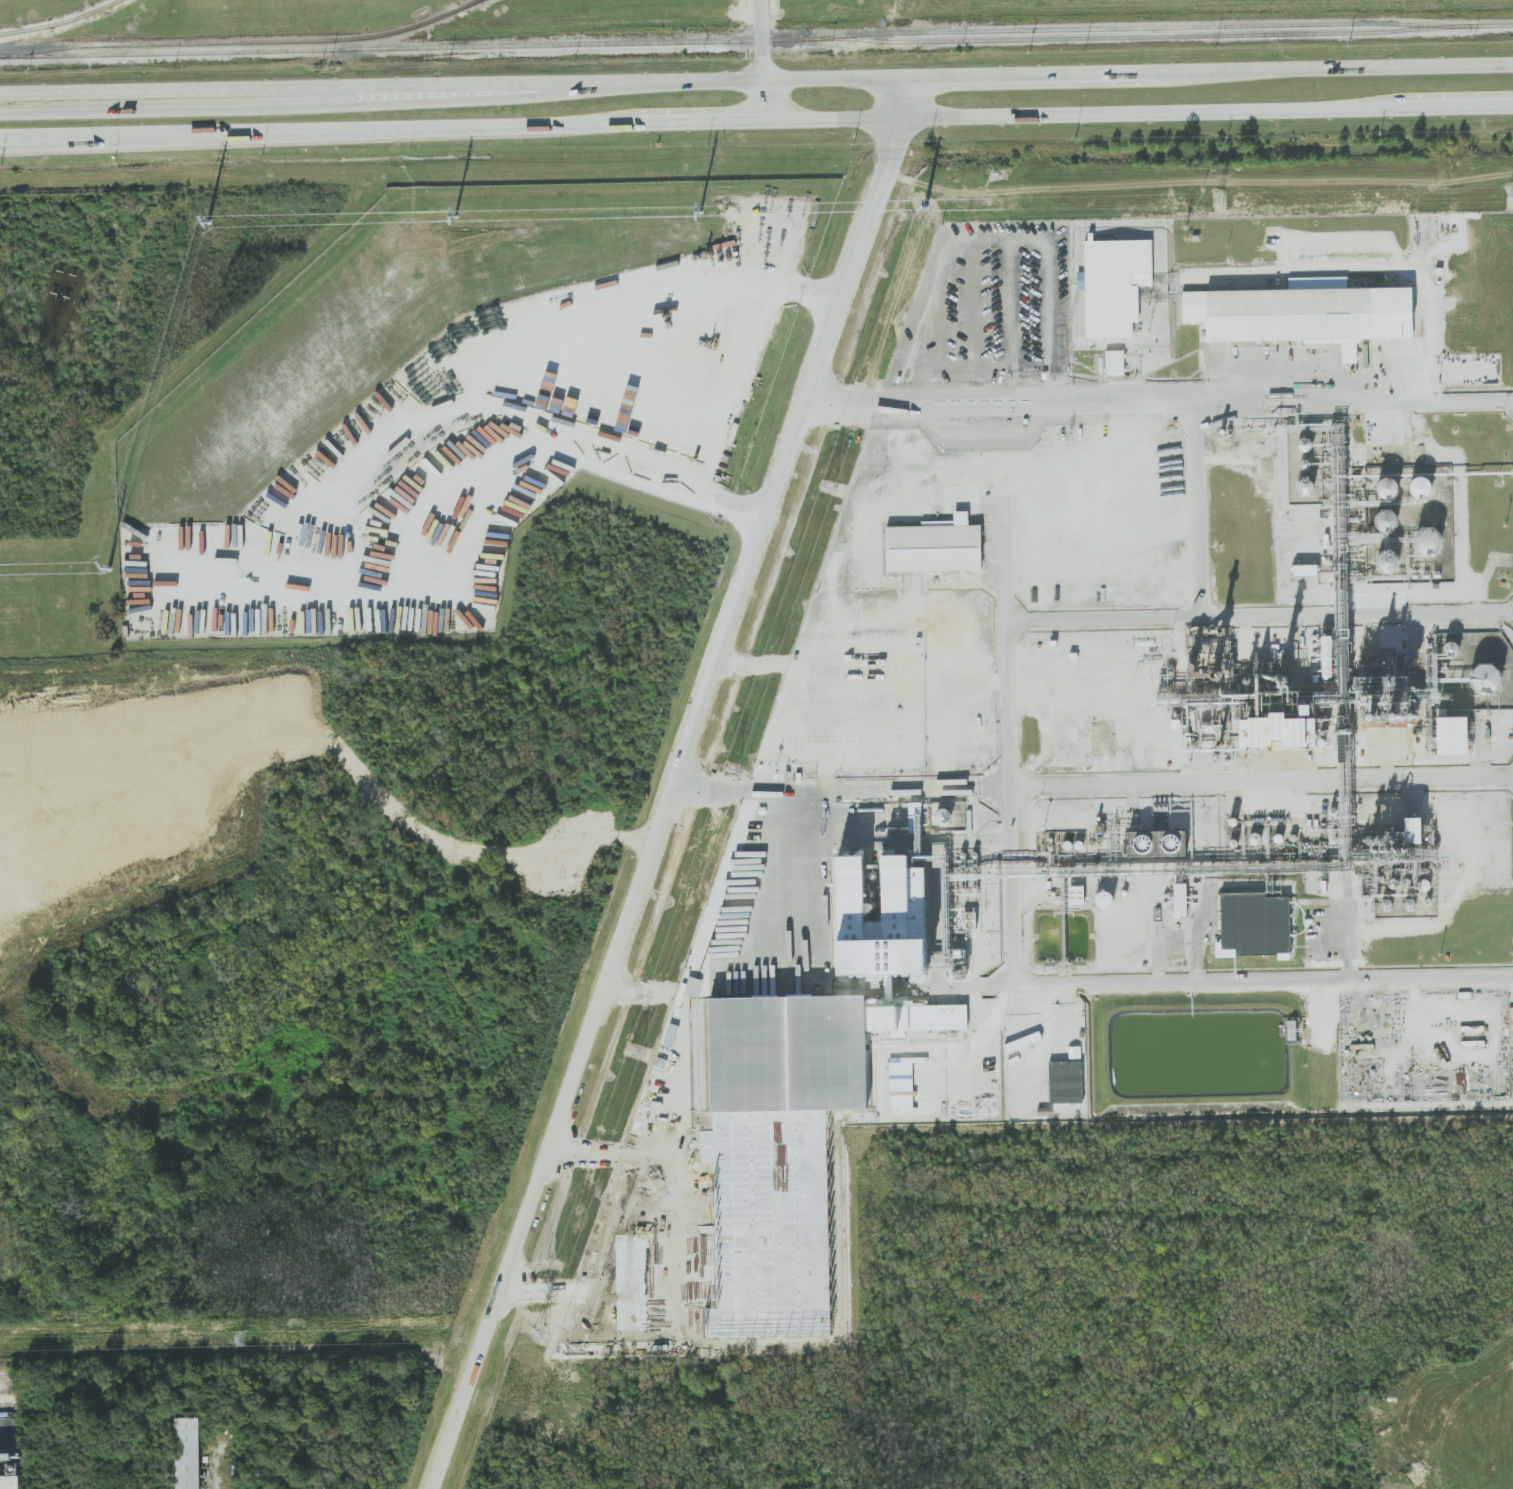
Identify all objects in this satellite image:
railway: (62, 22)
railway: (1136, 37)
road: (761, 40)
railway: (756, 41)
railway: (242, 42)
road: (756, 81)
road: (761, 101)
road: (303, 107)
road: (756, 121)
road: (6, 137)
power tower: (1512, 193)
power tower: (1219, 199)
power tower: (925, 204)
road: (1026, 236)
road: (992, 237)
road: (949, 261)
building: (1114, 285)
building: (1304, 313)
road: (975, 321)
road: (560, 333)
road: (1429, 337)
road: (938, 348)
building: (1115, 362)
road: (1457, 369)
road: (1162, 395)
road: (578, 447)
power tower: (830, 487)
road: (1200, 502)
building: (1429, 541)
building: (935, 546)
road: (1004, 557)
building: (1305, 570)
building: (1488, 677)
road: (1340, 683)
building: (1276, 732)
building: (1454, 735)
power tower: (734, 769)
road: (677, 784)
road: (1095, 784)
road: (1012, 793)
building: (1157, 843)
road: (451, 845)
road: (795, 872)
building: (1076, 895)
building: (1180, 899)
building: (1104, 900)
building: (970, 918)
building: (1254, 926)
building: (941, 949)
road: (974, 984)
building: (832, 1006)
power tower: (637, 1052)
building: (1066, 1082)
building: (656, 1153)
road: (654, 1244)
power tower: (540, 1334)
power tower: (242, 1337)
railway: (9, 1376)
railway: (9, 1391)
building: (187, 1453)

